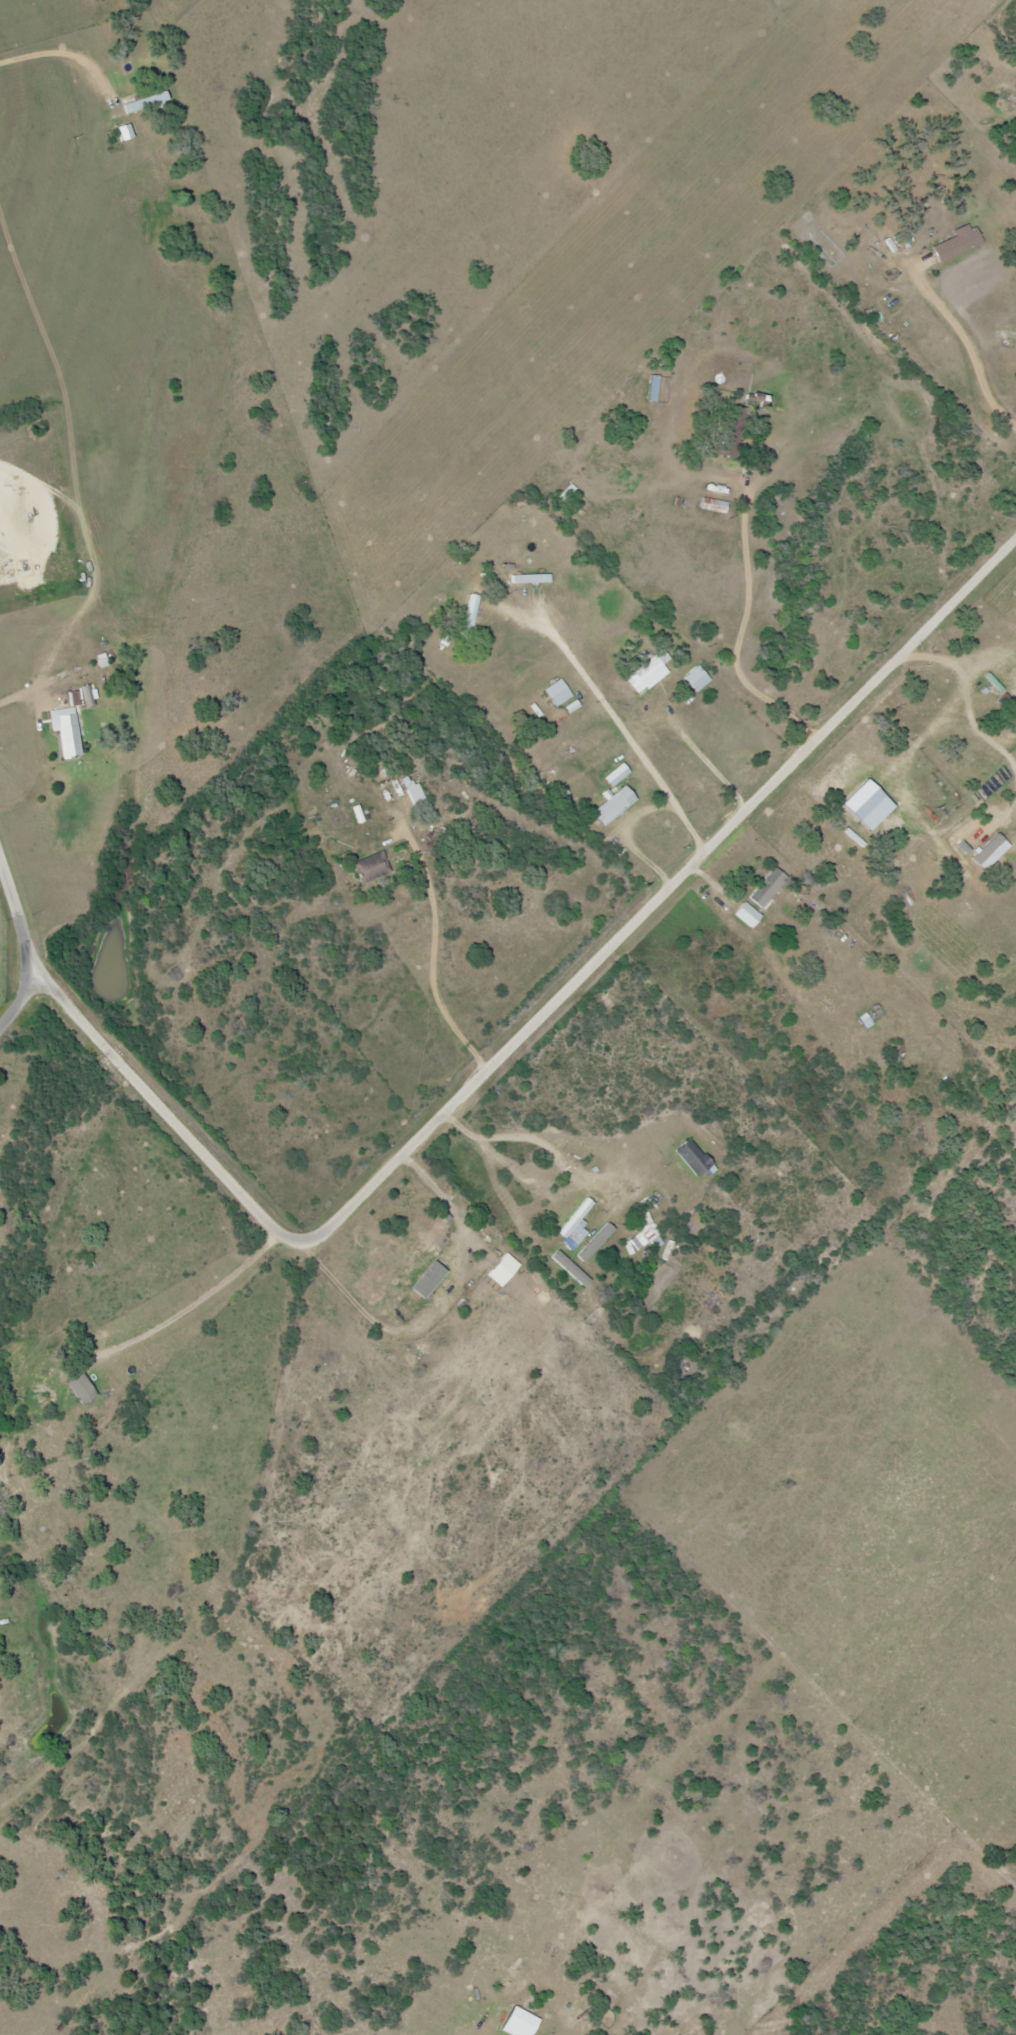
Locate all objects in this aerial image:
building: (144, 102)
building: (124, 131)
building: (955, 242)
building: (881, 243)
building: (652, 387)
building: (729, 426)
building: (711, 504)
building: (528, 578)
building: (470, 612)
building: (645, 673)
building: (695, 678)
building: (556, 692)
building: (65, 726)
building: (413, 792)
building: (615, 801)
building: (370, 866)
building: (767, 887)
building: (745, 913)
road: (26, 942)
building: (869, 1015)
road: (523, 1028)
building: (690, 1156)
building: (576, 1221)
building: (647, 1233)
building: (427, 1235)

